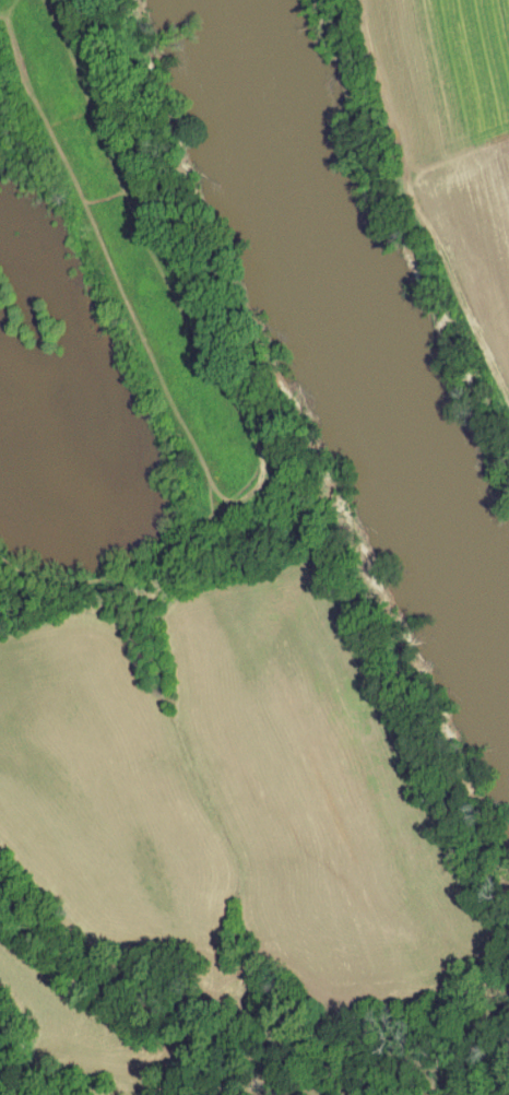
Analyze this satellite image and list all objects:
road: (418, 207)
river: (367, 323)

